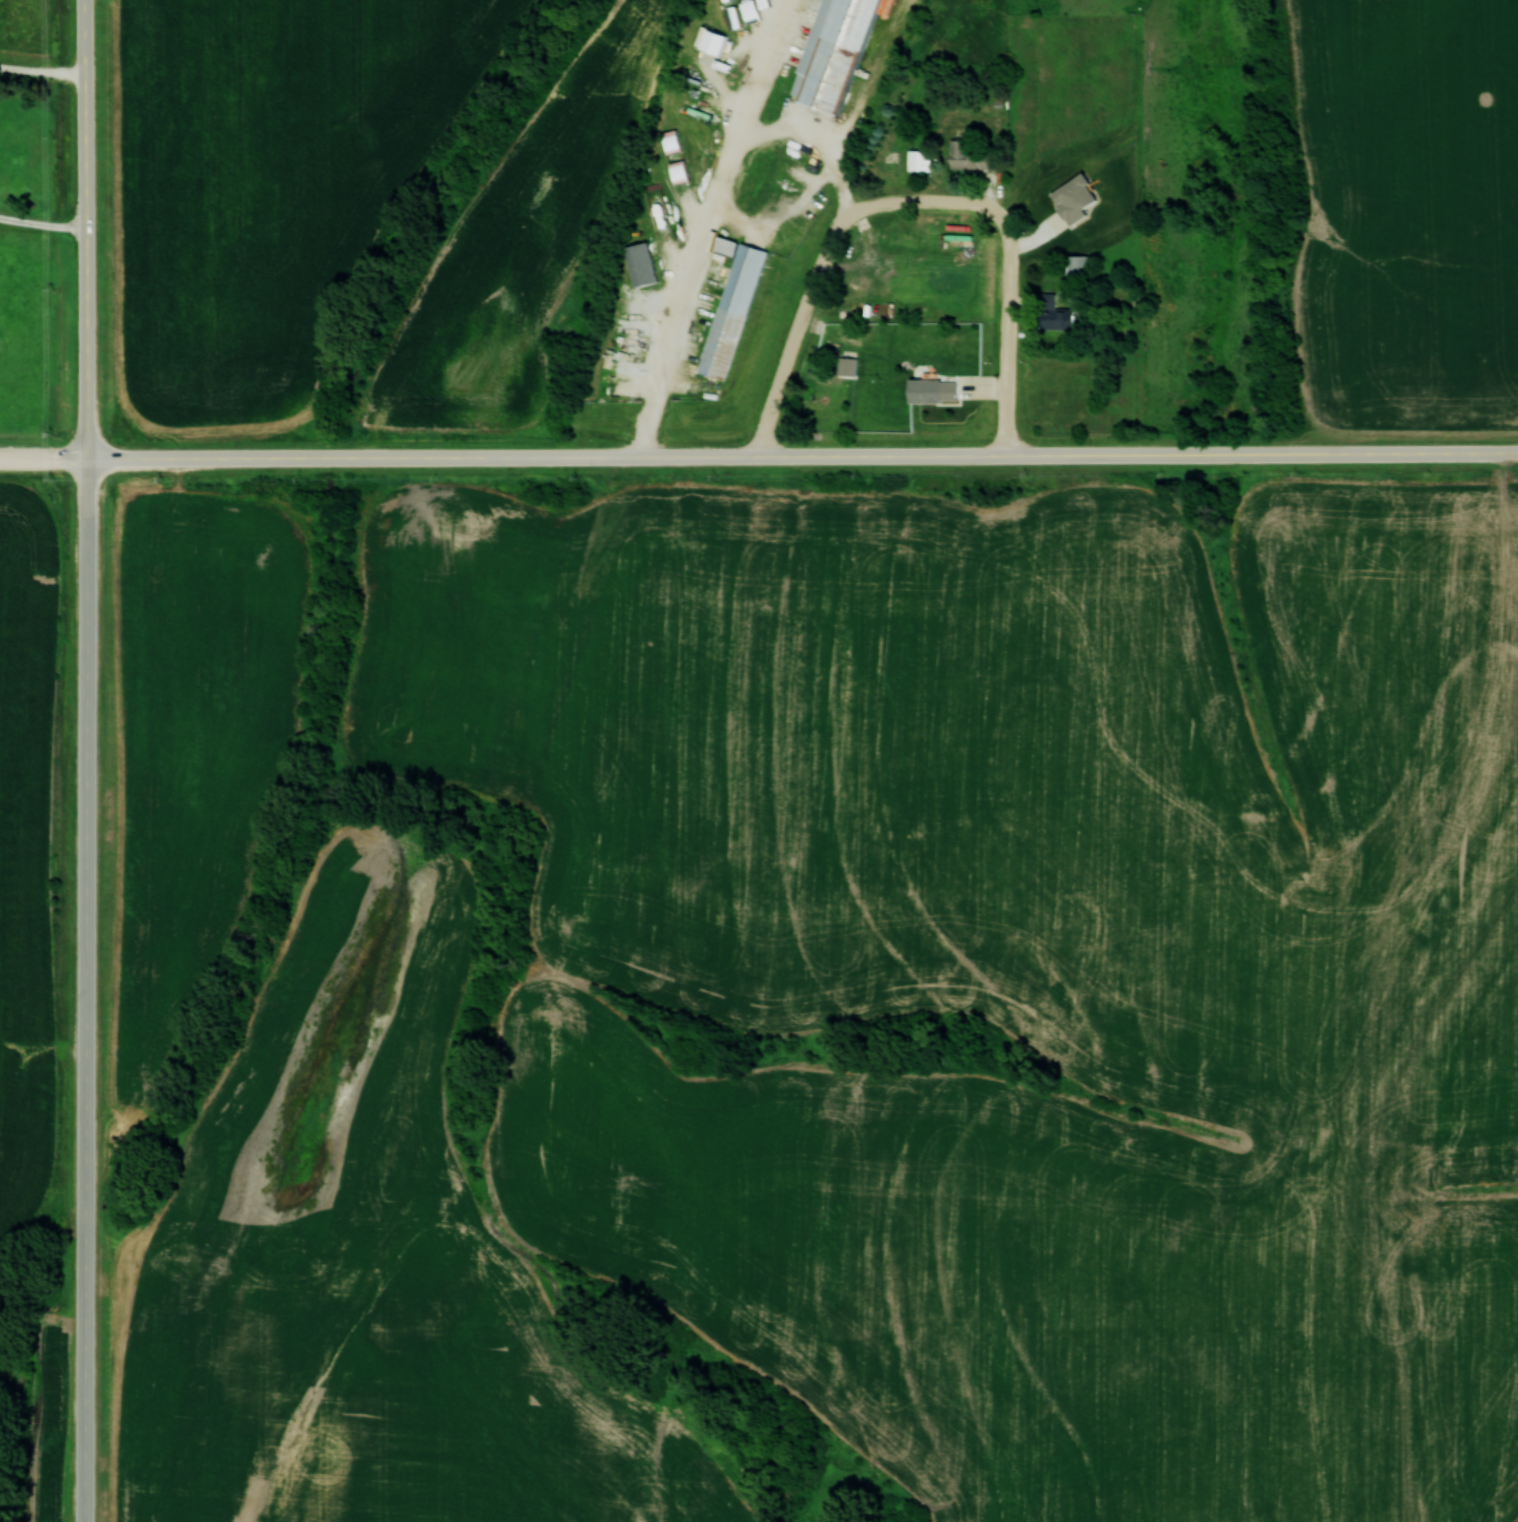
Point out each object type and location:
building: (709, 41)
building: (832, 53)
building: (967, 157)
building: (917, 160)
building: (1073, 199)
road: (924, 201)
building: (657, 213)
road: (43, 223)
building: (725, 245)
building: (1074, 264)
building: (640, 268)
building: (731, 311)
building: (1053, 314)
road: (794, 333)
road: (1006, 337)
building: (846, 366)
building: (932, 391)
road: (802, 454)
road: (44, 458)
road: (87, 760)

